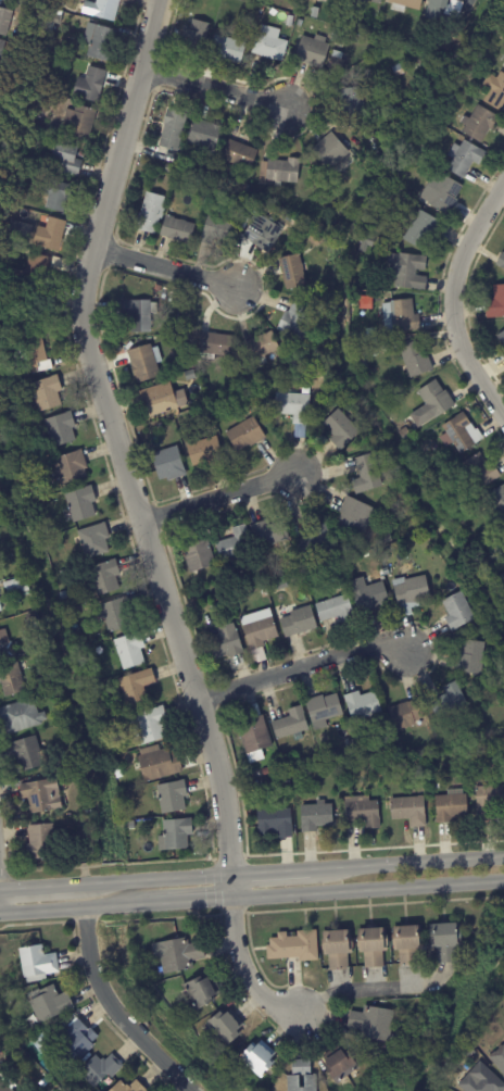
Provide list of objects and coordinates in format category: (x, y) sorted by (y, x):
building: (322, 1)
building: (366, 1)
building: (406, 4)
building: (103, 9)
building: (443, 9)
building: (315, 12)
building: (332, 16)
building: (249, 17)
building: (4, 21)
building: (289, 21)
building: (299, 23)
building: (310, 24)
building: (337, 36)
building: (194, 37)
building: (99, 41)
building: (269, 43)
building: (1, 47)
building: (228, 49)
building: (313, 51)
building: (337, 61)
building: (503, 65)
building: (400, 68)
building: (461, 78)
building: (89, 85)
road: (214, 88)
building: (494, 90)
building: (351, 102)
building: (78, 123)
building: (479, 123)
building: (173, 130)
building: (203, 136)
building: (330, 150)
building: (419, 150)
building: (239, 155)
building: (66, 156)
building: (466, 159)
building: (171, 168)
building: (207, 171)
building: (279, 172)
building: (15, 177)
building: (244, 187)
building: (55, 195)
building: (444, 196)
building: (249, 202)
building: (5, 212)
building: (150, 213)
building: (244, 221)
building: (299, 226)
building: (18, 228)
building: (177, 229)
building: (423, 229)
building: (217, 230)
building: (263, 233)
building: (50, 234)
building: (315, 240)
building: (361, 262)
building: (501, 262)
road: (163, 268)
building: (407, 271)
building: (38, 272)
building: (292, 274)
building: (157, 289)
building: (307, 299)
road: (452, 300)
building: (368, 301)
building: (496, 303)
building: (39, 314)
building: (139, 315)
building: (400, 317)
building: (297, 322)
building: (371, 338)
building: (502, 339)
building: (214, 346)
building: (117, 348)
building: (261, 348)
building: (503, 352)
building: (28, 359)
building: (415, 360)
building: (146, 363)
building: (188, 364)
building: (190, 376)
building: (26, 385)
building: (306, 390)
building: (47, 393)
building: (248, 397)
building: (163, 399)
building: (432, 402)
building: (294, 410)
building: (61, 429)
building: (340, 430)
building: (463, 434)
building: (245, 435)
building: (405, 435)
road: (115, 437)
building: (205, 453)
building: (168, 464)
building: (70, 467)
building: (480, 473)
building: (366, 476)
building: (388, 484)
road: (218, 498)
building: (497, 502)
building: (81, 504)
building: (355, 518)
building: (413, 518)
building: (503, 528)
building: (268, 535)
building: (93, 541)
building: (385, 541)
building: (315, 542)
building: (236, 544)
building: (198, 555)
building: (332, 565)
building: (104, 580)
building: (501, 581)
building: (281, 586)
building: (15, 587)
building: (503, 592)
building: (368, 594)
building: (411, 594)
building: (63, 597)
building: (336, 610)
building: (207, 611)
building: (458, 613)
building: (115, 615)
building: (0, 616)
building: (30, 620)
building: (297, 622)
building: (259, 629)
building: (226, 644)
building: (1, 652)
building: (130, 652)
building: (471, 659)
road: (301, 667)
building: (12, 679)
building: (136, 690)
building: (449, 702)
building: (363, 704)
building: (324, 711)
building: (406, 716)
building: (21, 717)
building: (108, 725)
building: (291, 725)
building: (385, 726)
building: (149, 727)
building: (254, 732)
building: (479, 739)
building: (399, 740)
building: (351, 749)
building: (486, 749)
building: (27, 755)
building: (157, 764)
building: (310, 772)
building: (265, 773)
building: (72, 774)
building: (117, 774)
building: (251, 776)
building: (173, 798)
building: (42, 800)
building: (489, 802)
building: (451, 808)
building: (407, 812)
building: (363, 813)
building: (316, 817)
building: (276, 825)
building: (131, 826)
building: (177, 835)
building: (85, 838)
building: (39, 843)
road: (408, 862)
road: (272, 870)
road: (177, 877)
road: (111, 881)
road: (49, 885)
road: (231, 886)
road: (368, 889)
road: (178, 902)
road: (112, 906)
road: (49, 908)
building: (446, 941)
building: (407, 944)
building: (294, 946)
building: (373, 946)
building: (338, 949)
building: (178, 953)
building: (37, 963)
road: (244, 969)
building: (201, 991)
road: (363, 991)
building: (48, 1003)
road: (115, 1011)
building: (373, 1023)
building: (226, 1026)
building: (33, 1030)
building: (53, 1036)
building: (3, 1037)
building: (78, 1041)
building: (471, 1053)
building: (499, 1057)
building: (259, 1058)
building: (26, 1061)
building: (339, 1063)
building: (100, 1069)
building: (302, 1077)
building: (481, 1080)
building: (5, 1082)
building: (39, 1084)
building: (129, 1087)
building: (73, 1089)

